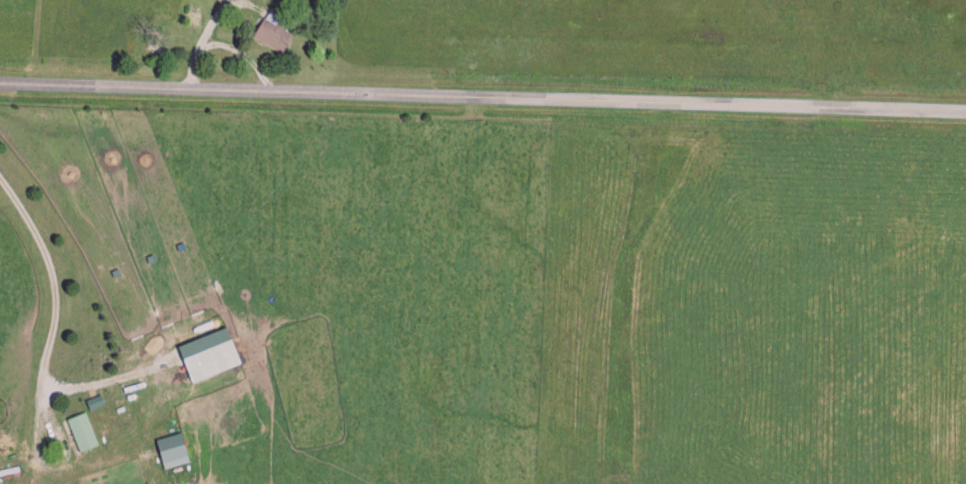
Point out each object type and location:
building: (273, 28)
road: (224, 45)
road: (483, 97)
road: (57, 284)
building: (207, 351)
building: (82, 429)
building: (172, 447)
road: (43, 457)

